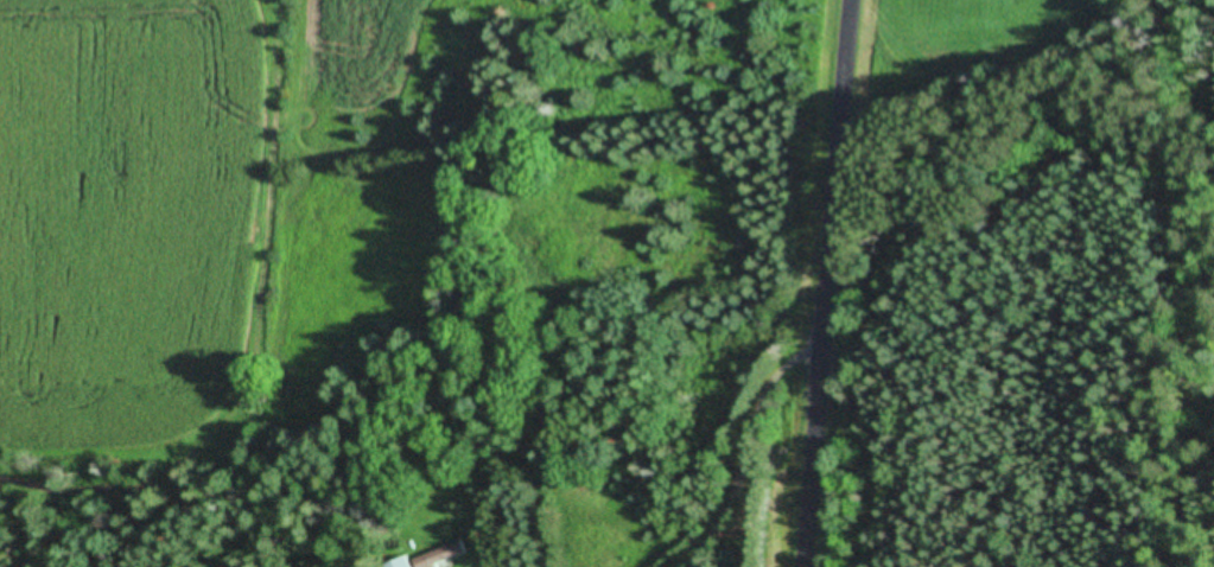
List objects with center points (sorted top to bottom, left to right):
road: (850, 283)
building: (447, 555)
building: (405, 563)

